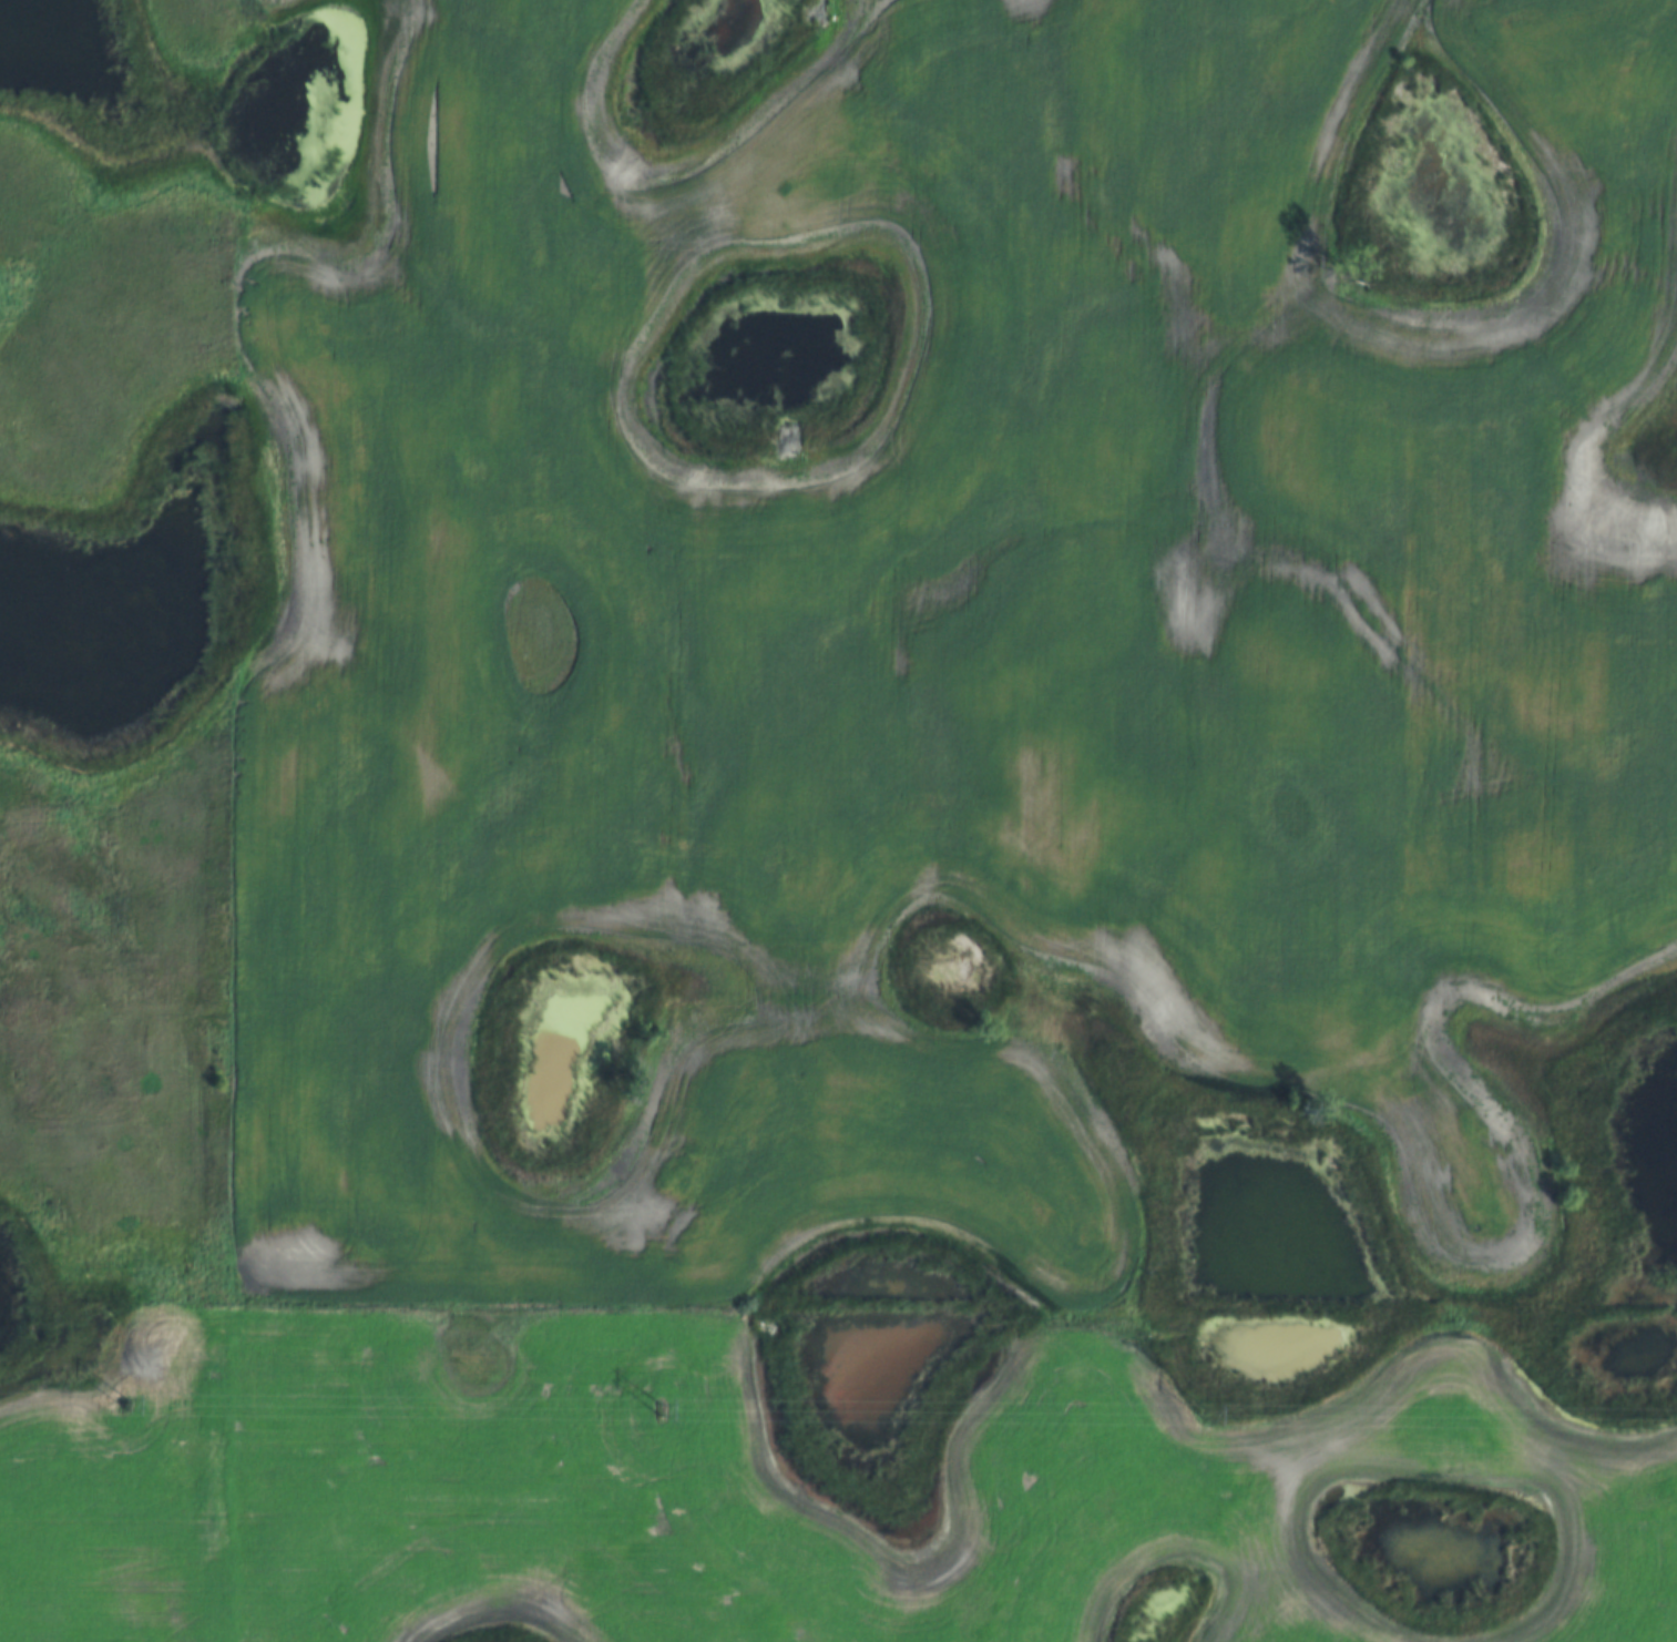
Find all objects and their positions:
power tower: (123, 1405)
power tower: (656, 1409)
power tower: (1204, 1414)

